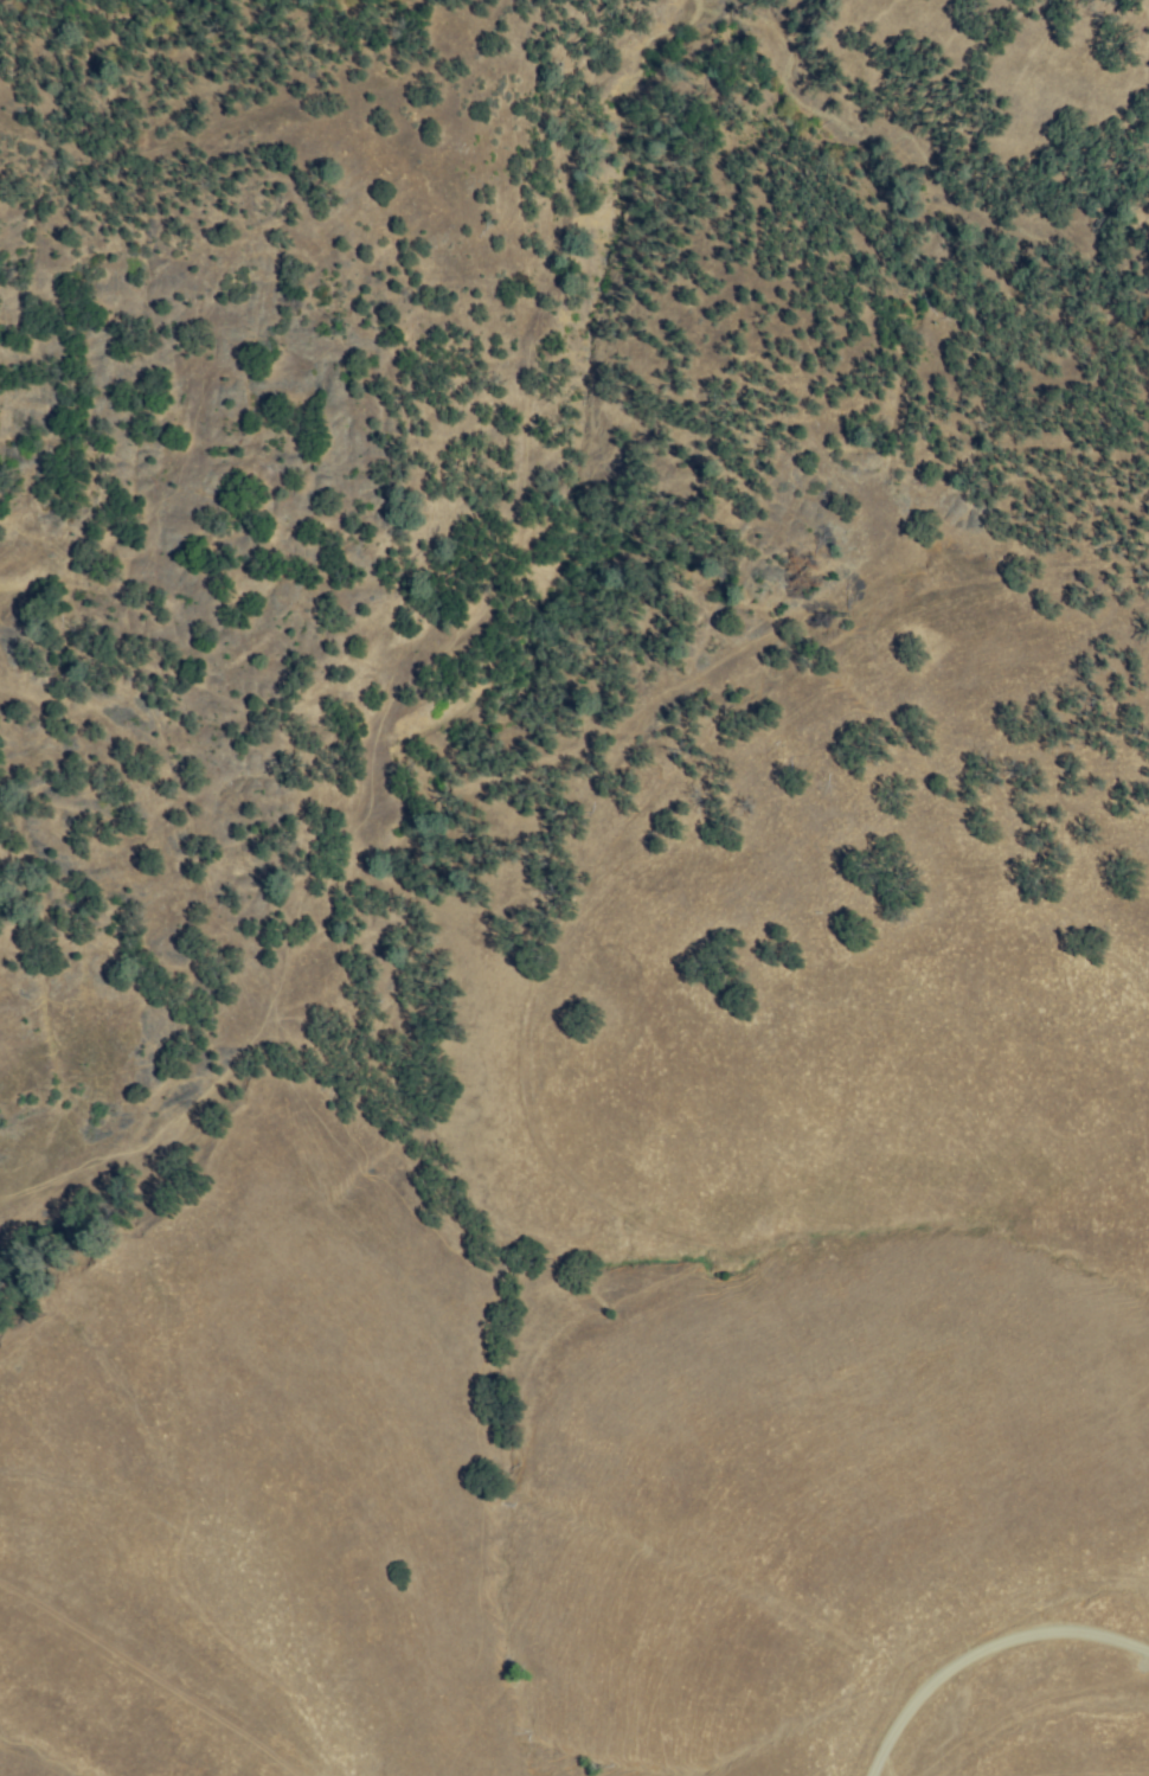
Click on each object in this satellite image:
road: (983, 1652)

